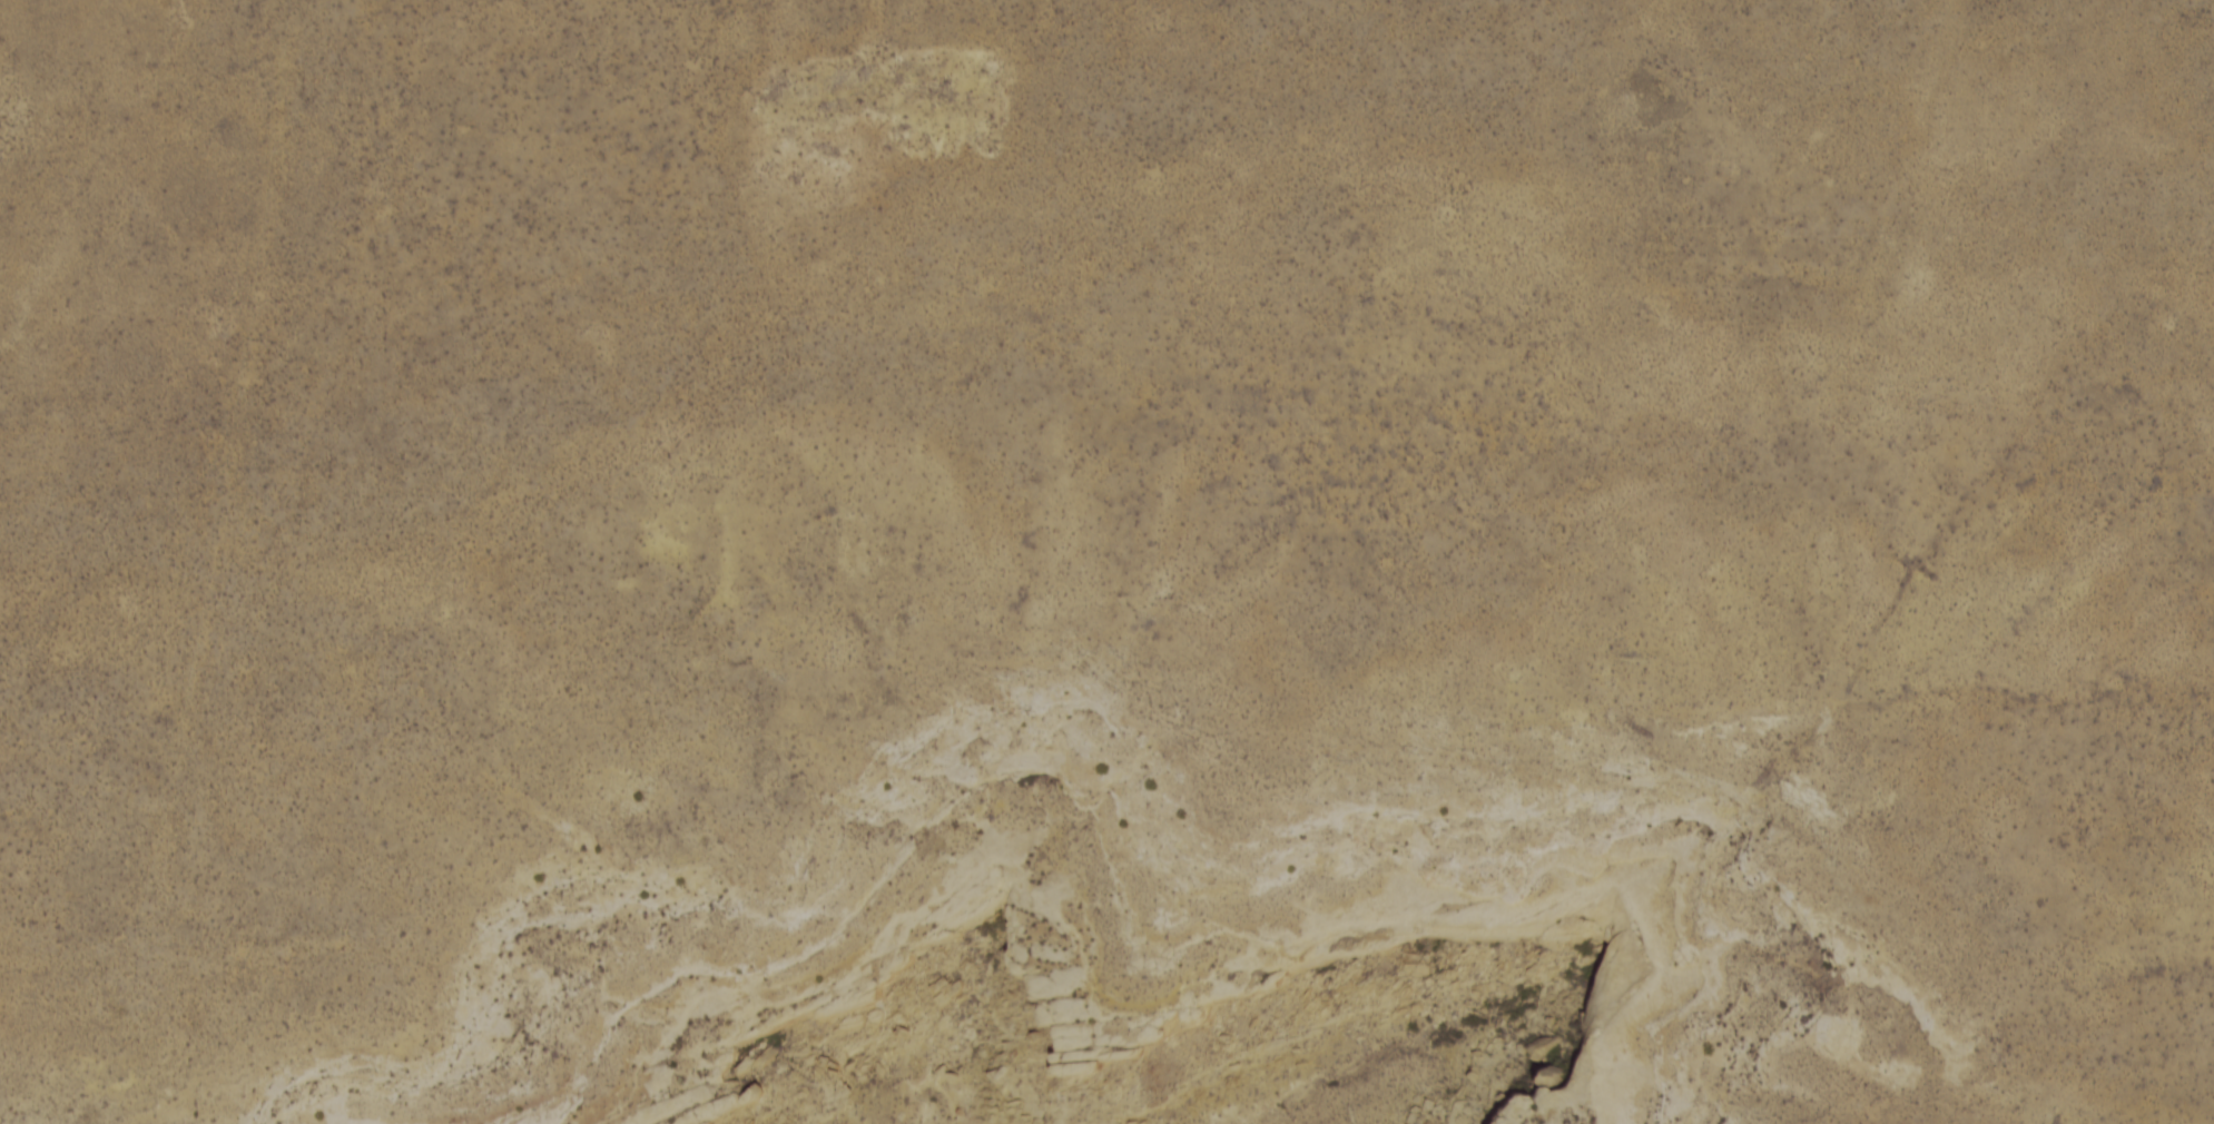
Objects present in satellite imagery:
road: (1096, 933)
road: (4, 1121)

